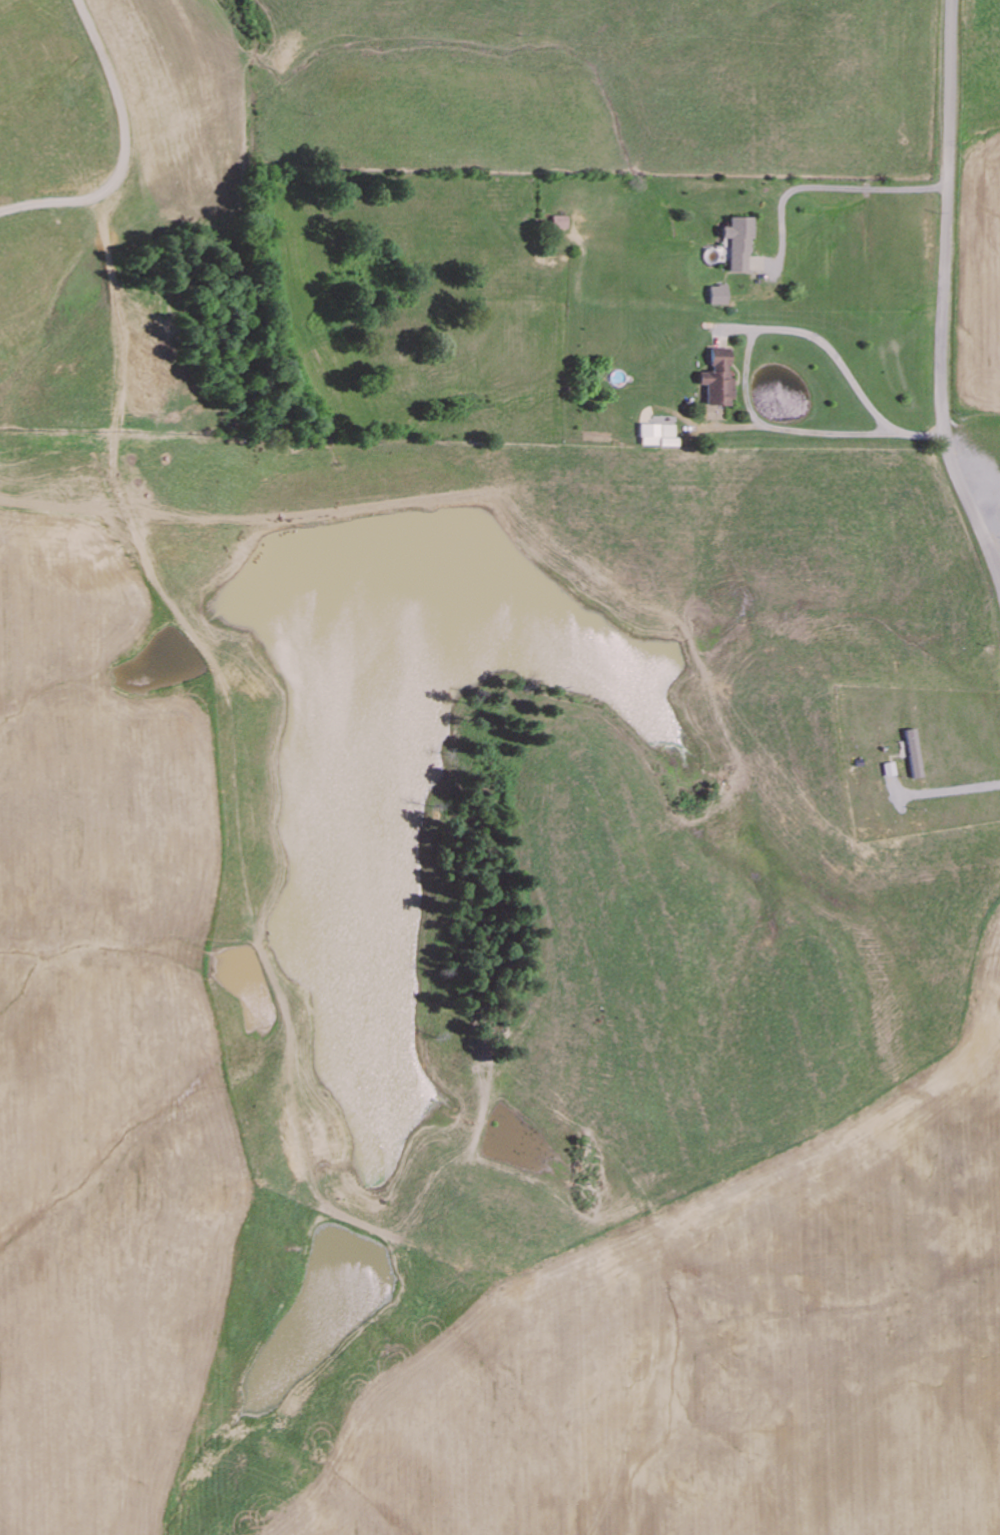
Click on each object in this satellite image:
building: (560, 221)
building: (740, 242)
building: (719, 293)
road: (945, 294)
building: (719, 376)
building: (655, 434)
road: (690, 1290)

